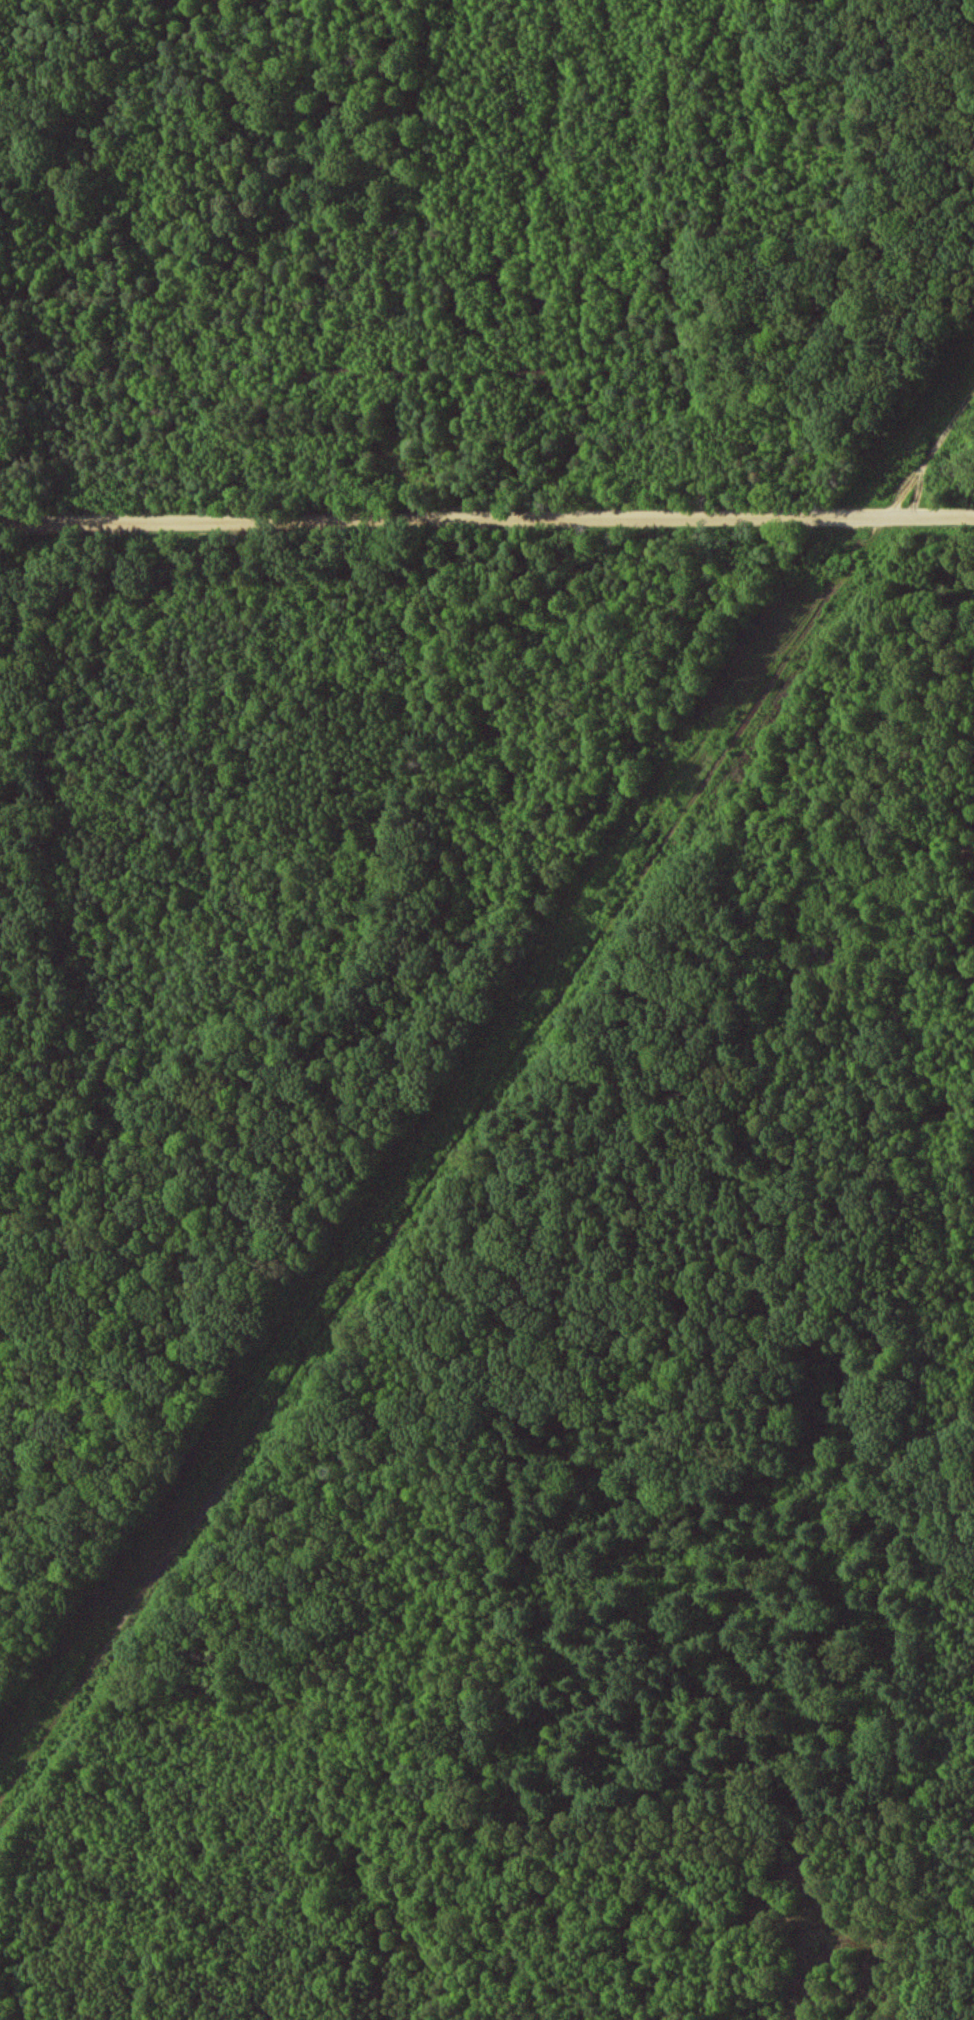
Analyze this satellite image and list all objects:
road: (486, 524)

